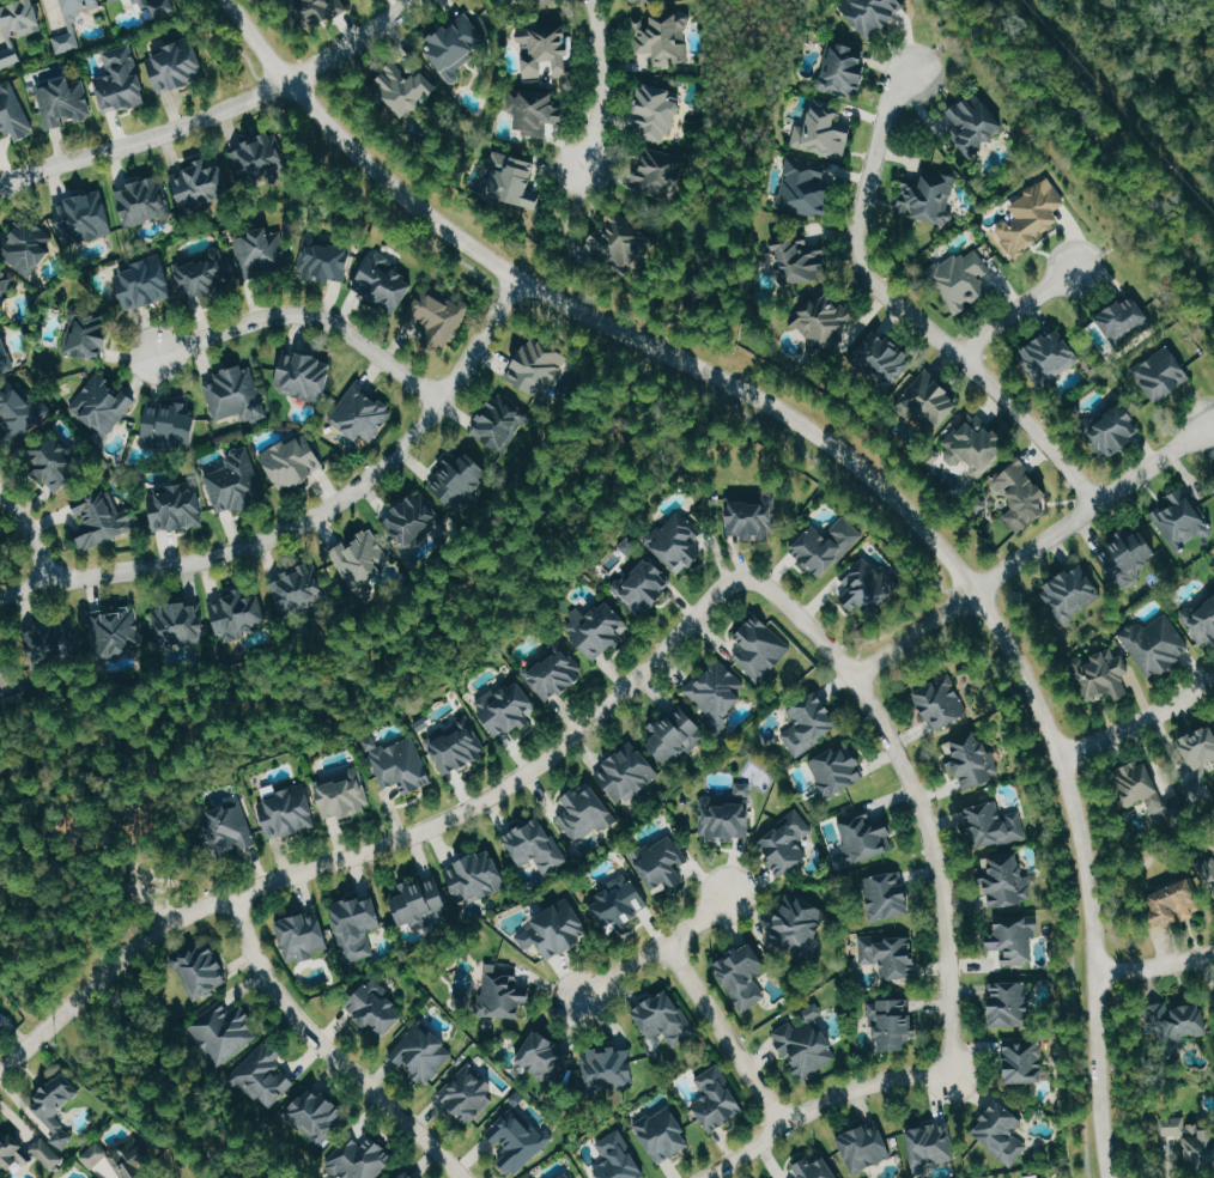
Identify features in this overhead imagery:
building: (641, 1)
building: (544, 2)
building: (324, 10)
building: (874, 13)
building: (73, 23)
building: (19, 26)
building: (664, 38)
road: (946, 40)
road: (353, 43)
building: (457, 44)
building: (547, 48)
building: (178, 65)
building: (846, 71)
building: (122, 79)
road: (603, 85)
building: (407, 87)
building: (65, 101)
building: (536, 109)
building: (13, 113)
building: (660, 113)
building: (977, 125)
building: (825, 133)
road: (142, 136)
road: (1093, 136)
building: (266, 158)
building: (666, 174)
building: (515, 178)
building: (208, 181)
building: (806, 187)
building: (931, 195)
building: (145, 201)
building: (86, 217)
building: (1032, 217)
building: (620, 237)
road: (1118, 241)
building: (29, 245)
building: (261, 251)
building: (805, 260)
building: (327, 261)
building: (206, 277)
building: (965, 279)
building: (146, 283)
building: (387, 283)
building: (6, 290)
road: (1014, 310)
road: (905, 312)
road: (308, 315)
building: (439, 316)
building: (824, 320)
building: (1128, 320)
building: (92, 336)
building: (6, 353)
building: (1054, 354)
building: (886, 358)
building: (1164, 374)
building: (305, 376)
building: (237, 394)
building: (933, 399)
building: (104, 403)
building: (20, 412)
building: (364, 413)
building: (502, 421)
building: (172, 423)
road: (1210, 423)
building: (1116, 431)
building: (976, 445)
building: (293, 461)
road: (852, 461)
building: (60, 464)
building: (461, 479)
building: (237, 482)
road: (866, 494)
building: (1025, 496)
building: (178, 506)
road: (1089, 508)
building: (755, 517)
building: (103, 518)
road: (312, 520)
building: (415, 520)
building: (1182, 520)
road: (30, 534)
road: (534, 536)
building: (681, 542)
building: (827, 545)
building: (1131, 555)
building: (360, 557)
building: (869, 584)
building: (645, 587)
building: (301, 588)
building: (1075, 591)
building: (180, 624)
building: (1202, 624)
building: (602, 630)
building: (115, 631)
road: (913, 633)
building: (1158, 644)
building: (763, 648)
building: (559, 675)
building: (1107, 675)
building: (6, 678)
building: (717, 693)
building: (943, 703)
building: (509, 708)
road: (1137, 723)
building: (812, 724)
building: (675, 731)
building: (457, 747)
building: (1201, 747)
building: (973, 761)
building: (401, 764)
building: (838, 769)
building: (630, 773)
road: (514, 779)
building: (1142, 782)
building: (1202, 790)
building: (345, 796)
building: (290, 812)
building: (587, 813)
building: (729, 815)
building: (995, 825)
building: (227, 830)
building: (864, 838)
building: (788, 843)
building: (538, 845)
building: (663, 863)
road: (128, 866)
road: (939, 867)
building: (479, 876)
building: (1009, 881)
parking lot: (139, 884)
road: (153, 893)
building: (890, 895)
building: (1180, 901)
building: (423, 903)
building: (623, 904)
building: (800, 923)
building: (359, 927)
building: (558, 930)
building: (304, 935)
building: (1018, 940)
road: (655, 946)
building: (891, 954)
road: (1155, 968)
building: (204, 971)
building: (745, 976)
building: (505, 994)
building: (1012, 1003)
building: (377, 1009)
building: (667, 1018)
road: (50, 1021)
building: (1183, 1021)
building: (1, 1024)
building: (896, 1024)
building: (226, 1032)
road: (724, 1032)
road: (101, 1039)
building: (808, 1043)
road: (327, 1052)
building: (423, 1052)
building: (546, 1053)
building: (1025, 1061)
building: (609, 1069)
building: (266, 1076)
building: (469, 1093)
building: (720, 1099)
road: (819, 1103)
building: (57, 1105)
building: (316, 1115)
building: (1173, 1125)
building: (1002, 1131)
building: (666, 1135)
building: (518, 1138)
building: (933, 1144)
building: (867, 1147)
building: (25, 1153)
building: (95, 1155)
building: (363, 1159)
building: (619, 1159)
building: (132, 1161)
building: (817, 1168)
road: (210, 1171)
building: (408, 1174)
building: (566, 1174)

